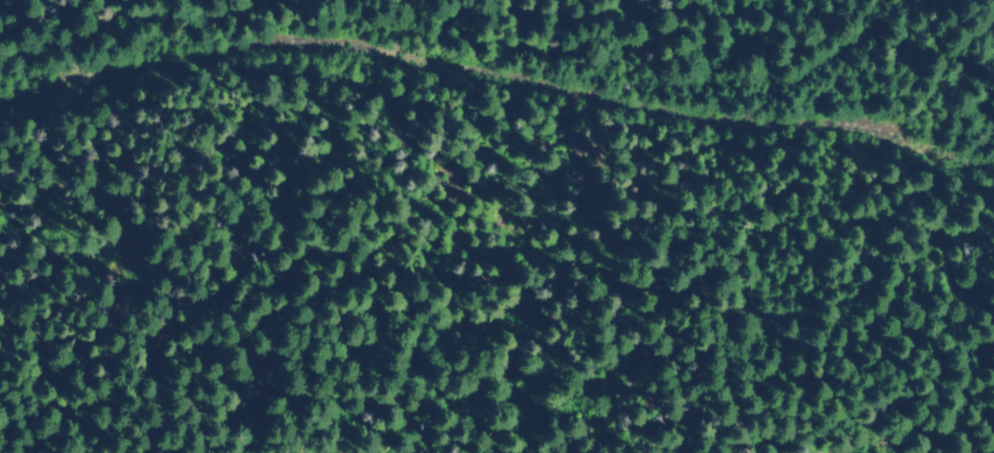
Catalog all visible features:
road: (499, 79)

